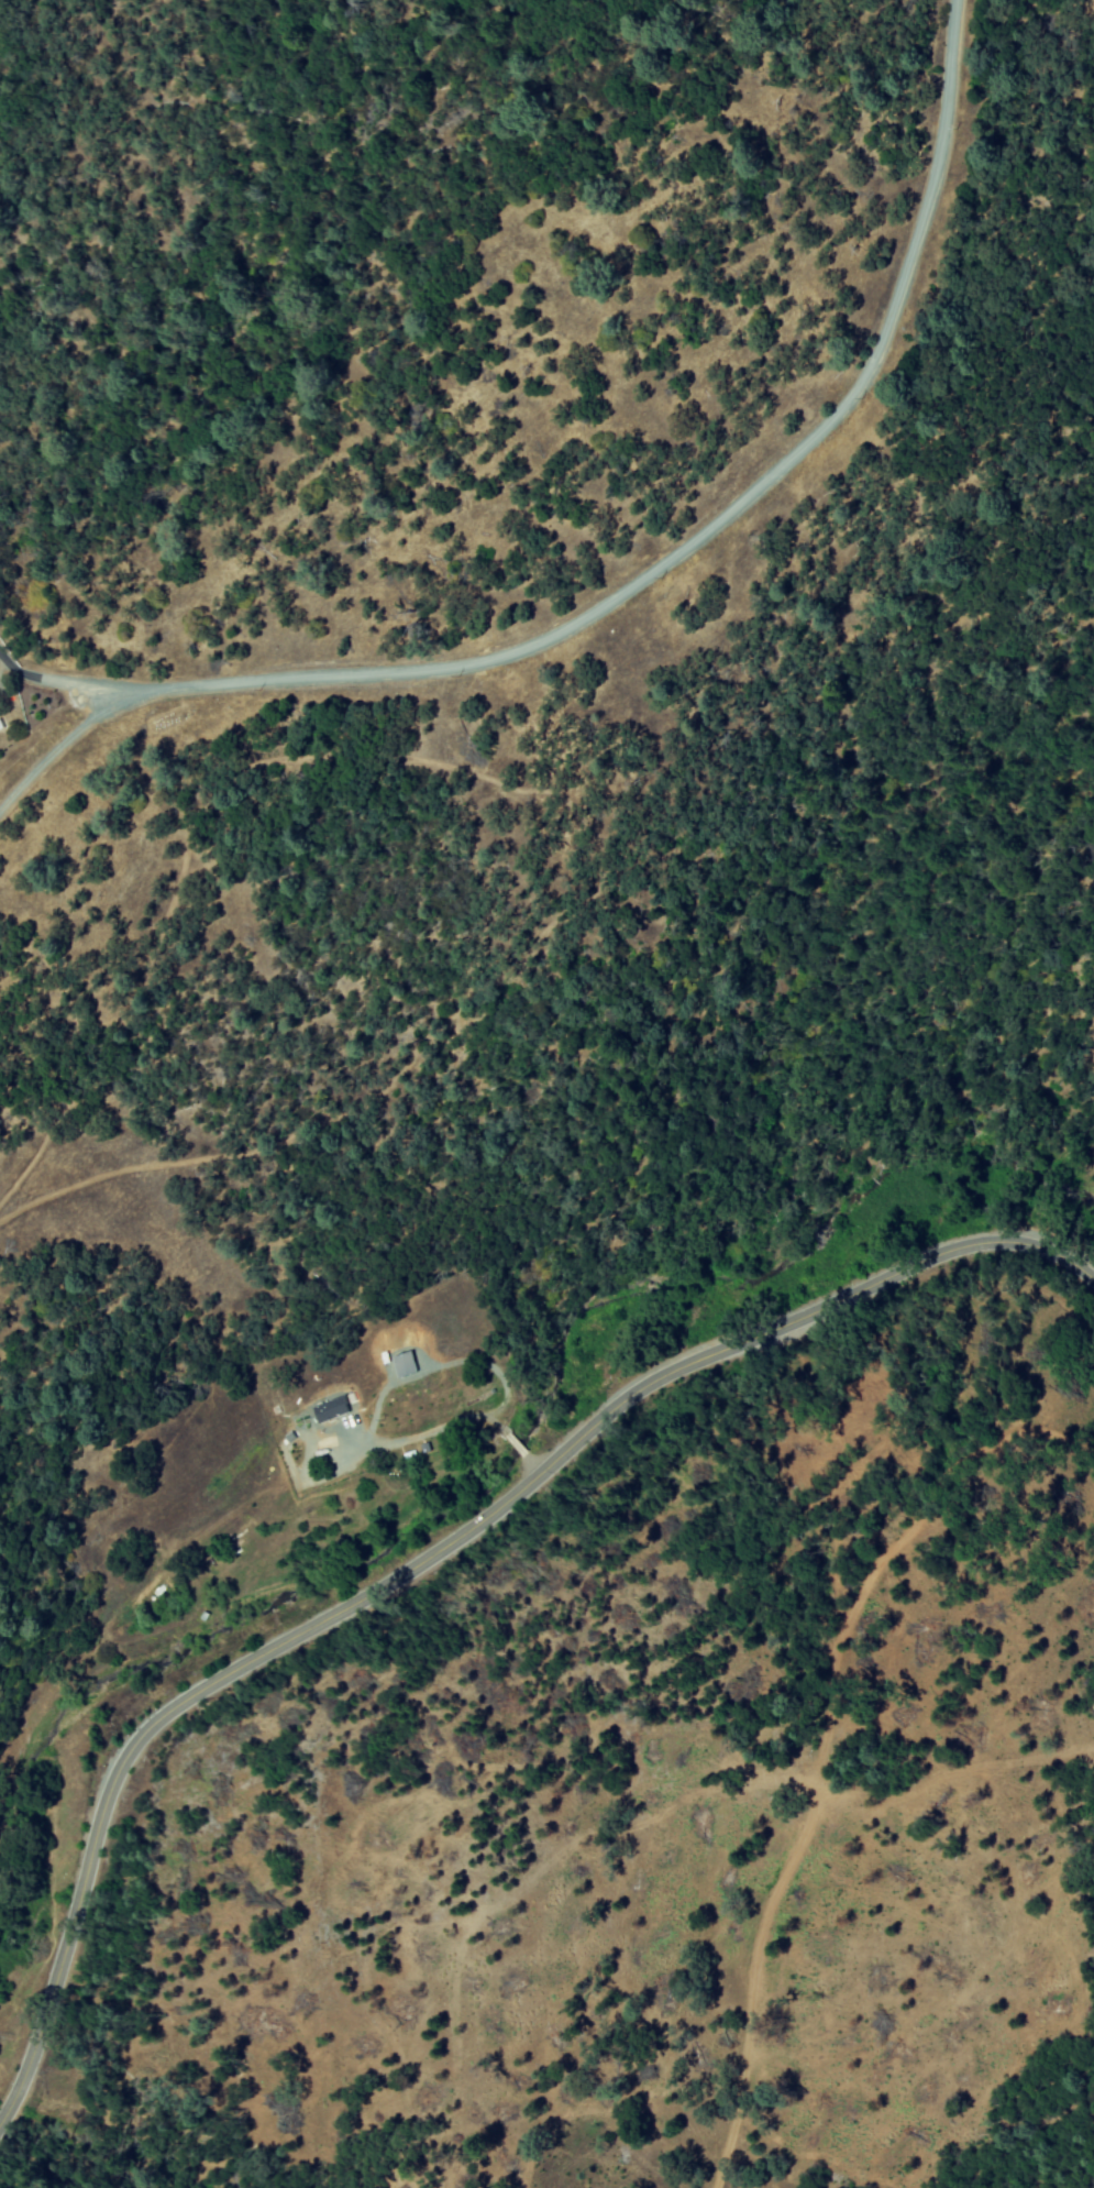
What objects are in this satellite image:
road: (703, 532)
road: (60, 683)
road: (60, 747)
building: (407, 1363)
building: (333, 1408)
road: (433, 1558)

